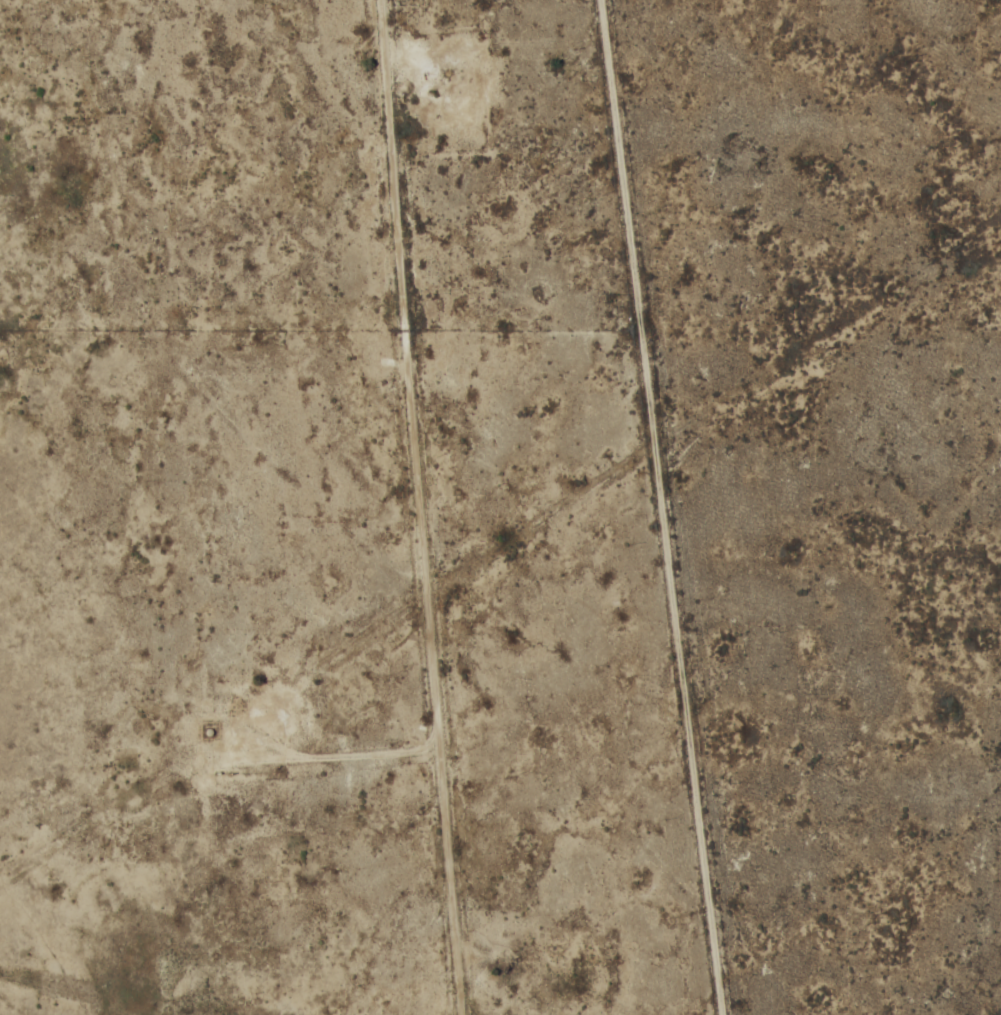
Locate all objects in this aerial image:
road: (421, 507)
road: (215, 810)
road: (95, 1003)

